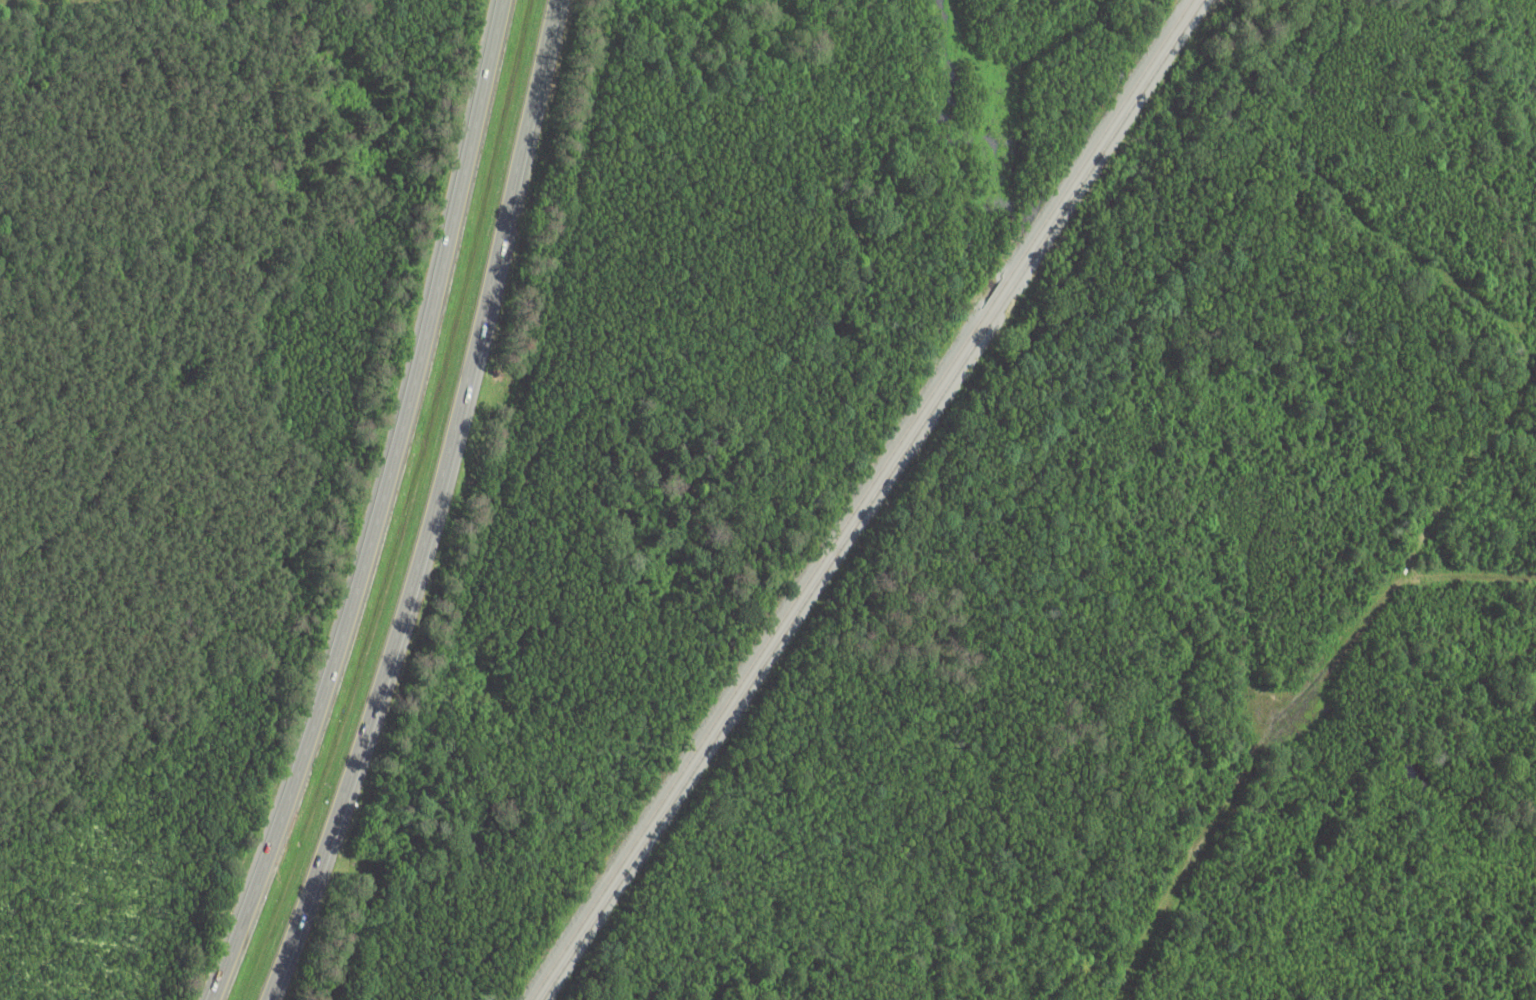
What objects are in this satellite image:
railway: (1104, 136)
railway: (1112, 138)
railway: (997, 296)
railway: (1005, 302)
road: (383, 507)
road: (439, 507)
railway: (757, 660)
railway: (765, 663)

